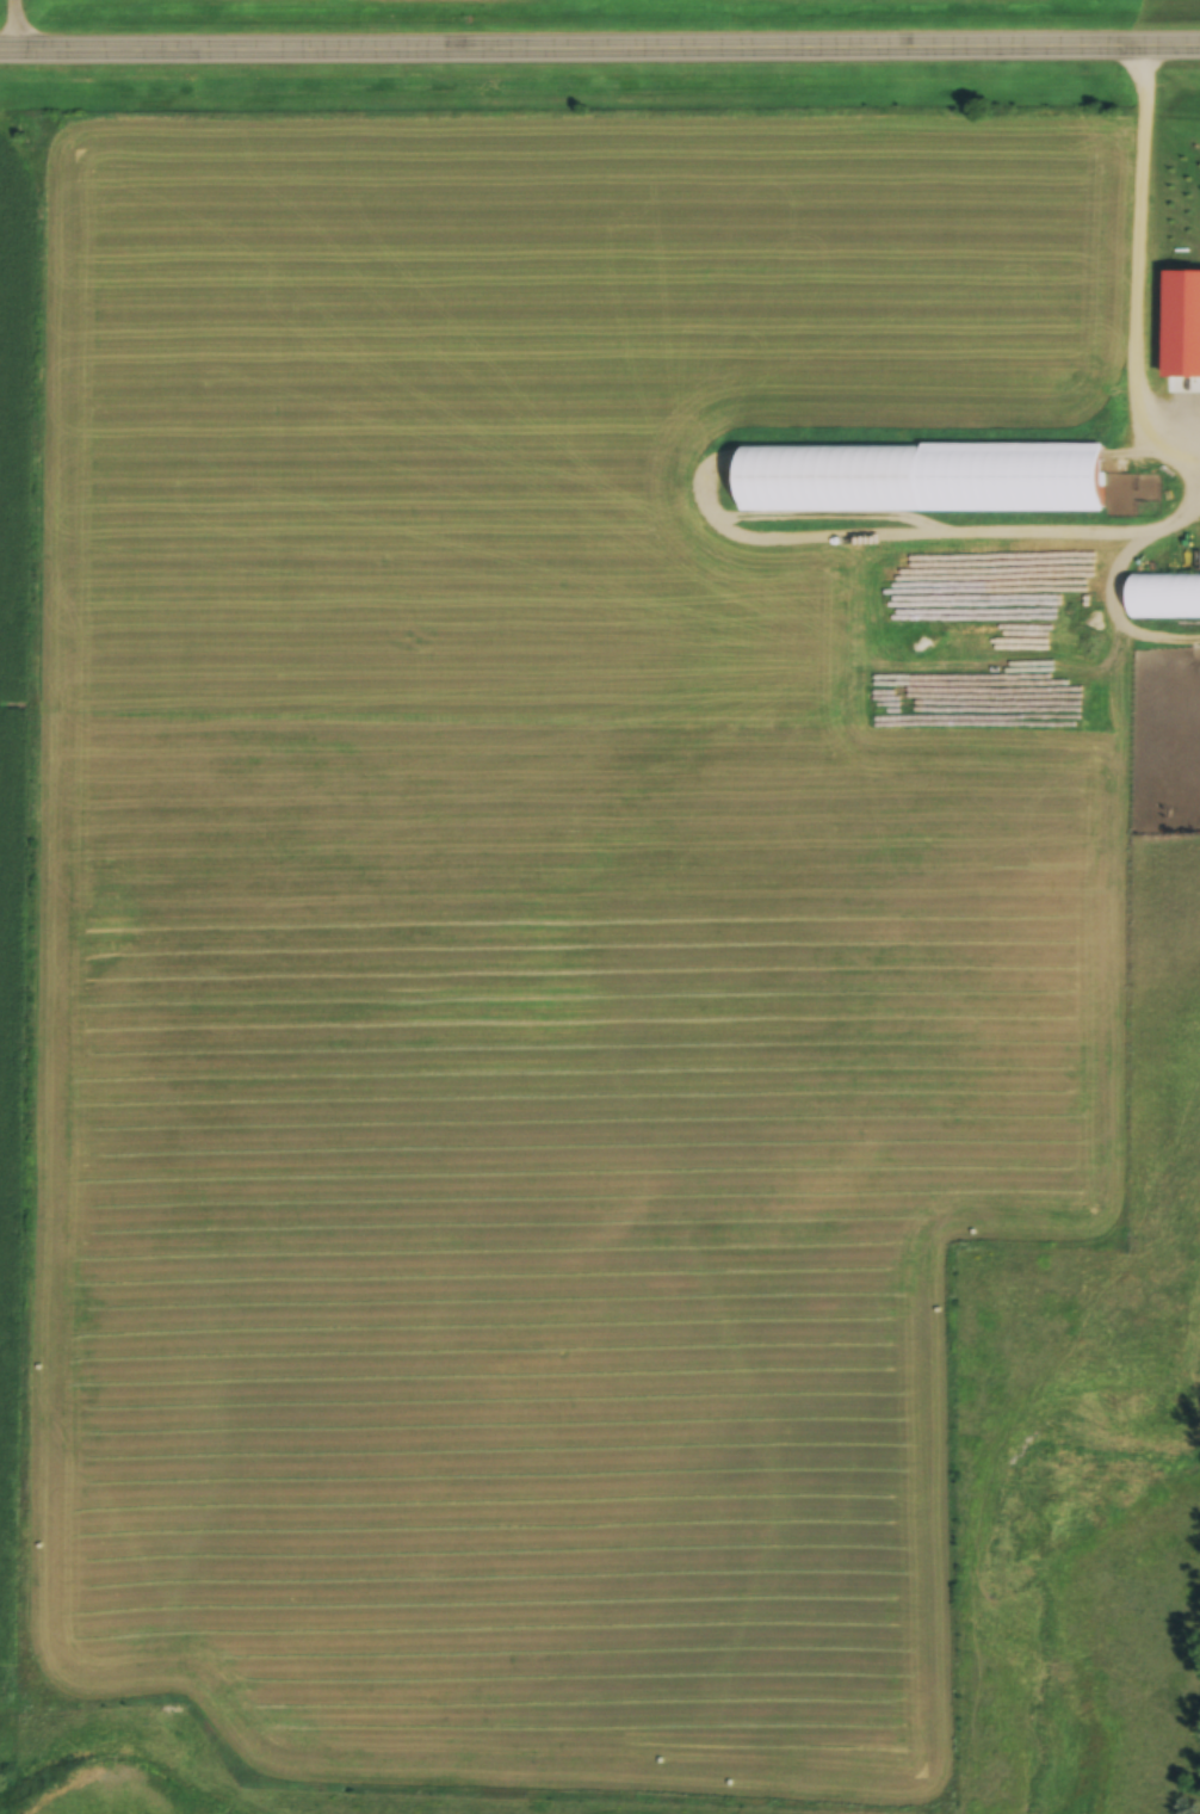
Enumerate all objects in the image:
road: (599, 53)
road: (1134, 264)
building: (954, 482)
building: (1163, 600)

